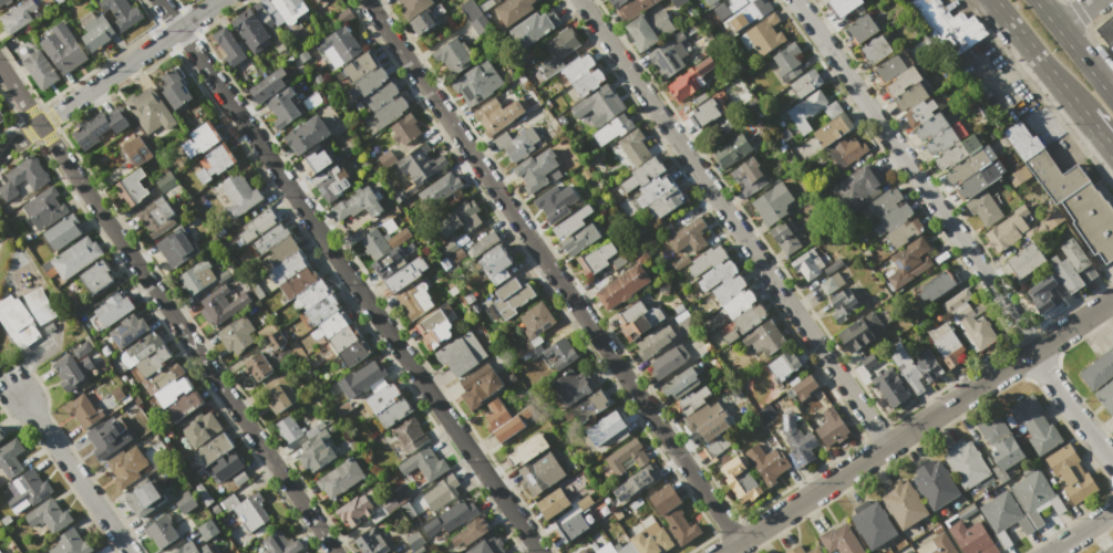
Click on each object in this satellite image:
building: (312, 0)
building: (316, 0)
building: (900, 0)
building: (906, 0)
building: (4, 1)
building: (709, 1)
building: (682, 2)
building: (616, 3)
building: (844, 6)
building: (413, 7)
building: (733, 7)
building: (289, 9)
building: (632, 9)
building: (513, 10)
building: (122, 12)
road: (1075, 12)
building: (266, 13)
building: (344, 14)
building: (746, 14)
building: (18, 15)
building: (474, 17)
building: (425, 19)
building: (948, 25)
building: (533, 28)
building: (651, 28)
building: (862, 28)
building: (94, 30)
building: (1105, 30)
building: (251, 33)
building: (762, 34)
building: (339, 44)
road: (1075, 45)
building: (228, 46)
building: (1111, 46)
building: (62, 48)
building: (876, 49)
building: (557, 52)
building: (453, 55)
road: (1039, 56)
building: (668, 59)
building: (787, 62)
building: (578, 66)
building: (39, 67)
building: (890, 67)
road: (110, 76)
road: (1001, 79)
building: (904, 80)
building: (587, 82)
building: (477, 83)
building: (686, 83)
building: (805, 83)
building: (268, 85)
building: (175, 88)
building: (373, 91)
building: (910, 96)
building: (599, 105)
building: (282, 107)
building: (150, 109)
building: (805, 109)
building: (832, 109)
building: (923, 109)
building: (708, 111)
building: (496, 115)
building: (1, 117)
building: (931, 125)
building: (403, 128)
building: (612, 128)
building: (833, 129)
building: (97, 131)
road: (1099, 133)
building: (307, 135)
building: (785, 135)
building: (199, 138)
building: (1022, 139)
building: (941, 140)
building: (517, 144)
building: (781, 144)
building: (633, 147)
building: (736, 148)
building: (959, 150)
building: (136, 152)
building: (846, 152)
building: (385, 159)
building: (215, 161)
building: (315, 164)
building: (422, 164)
building: (967, 166)
building: (533, 171)
building: (586, 173)
building: (642, 174)
building: (1019, 175)
building: (748, 176)
building: (1054, 176)
building: (23, 177)
building: (804, 179)
building: (980, 179)
building: (165, 181)
building: (331, 181)
building: (132, 187)
building: (440, 188)
building: (655, 188)
building: (856, 188)
building: (239, 194)
building: (664, 202)
building: (882, 202)
building: (357, 204)
building: (772, 204)
building: (553, 205)
building: (44, 208)
building: (983, 208)
building: (155, 217)
building: (460, 218)
building: (893, 218)
building: (1052, 219)
building: (1092, 219)
building: (571, 222)
road: (732, 223)
building: (257, 225)
building: (1042, 228)
building: (1008, 229)
road: (951, 230)
building: (63, 232)
building: (903, 232)
building: (689, 234)
building: (785, 236)
building: (269, 238)
building: (580, 238)
building: (381, 241)
building: (483, 244)
building: (175, 248)
building: (449, 248)
building: (282, 250)
building: (75, 257)
building: (596, 258)
building: (394, 259)
building: (707, 259)
building: (1026, 259)
building: (1078, 259)
building: (679, 261)
building: (909, 261)
building: (618, 262)
building: (807, 263)
building: (495, 264)
building: (288, 267)
building: (832, 267)
road: (552, 271)
building: (1065, 273)
building: (405, 274)
building: (718, 274)
building: (197, 275)
road: (349, 275)
building: (96, 276)
building: (298, 282)
building: (831, 282)
building: (937, 284)
building: (622, 285)
building: (728, 289)
building: (1044, 293)
building: (512, 296)
building: (414, 300)
building: (956, 300)
building: (317, 301)
building: (736, 304)
building: (39, 305)
building: (220, 305)
building: (843, 305)
building: (113, 309)
building: (978, 309)
road: (166, 311)
building: (535, 320)
building: (638, 320)
building: (742, 321)
building: (17, 322)
building: (439, 326)
building: (687, 326)
building: (971, 327)
building: (128, 330)
building: (860, 331)
building: (334, 333)
building: (236, 334)
building: (765, 336)
building: (944, 338)
building: (276, 340)
building: (653, 342)
building: (708, 346)
building: (354, 353)
building: (462, 353)
building: (556, 353)
building: (147, 354)
building: (867, 361)
building: (670, 363)
building: (784, 365)
building: (928, 365)
building: (257, 366)
building: (73, 367)
building: (908, 368)
building: (1099, 371)
building: (360, 380)
building: (682, 382)
building: (480, 385)
building: (171, 386)
building: (573, 386)
building: (805, 386)
building: (890, 388)
building: (277, 394)
road: (14, 396)
building: (1106, 396)
building: (691, 400)
building: (184, 405)
building: (385, 405)
building: (590, 406)
building: (82, 410)
building: (766, 414)
building: (702, 415)
building: (504, 419)
building: (1034, 424)
building: (713, 425)
building: (832, 427)
road: (917, 427)
building: (200, 428)
building: (288, 429)
building: (607, 429)
building: (2, 432)
building: (409, 434)
building: (106, 440)
building: (797, 441)
building: (1000, 442)
building: (719, 445)
building: (214, 449)
building: (527, 449)
building: (316, 455)
building: (626, 456)
building: (10, 458)
building: (766, 463)
building: (967, 465)
building: (422, 466)
building: (127, 467)
building: (225, 467)
building: (540, 473)
building: (1070, 473)
road: (79, 478)
building: (340, 478)
building: (740, 479)
building: (935, 482)
building: (635, 483)
building: (28, 490)
building: (441, 492)
building: (202, 493)
building: (401, 494)
building: (146, 498)
building: (1038, 500)
building: (584, 501)
building: (185, 502)
building: (552, 503)
building: (636, 503)
building: (905, 505)
building: (391, 507)
building: (247, 510)
building: (408, 510)
building: (354, 511)
building: (617, 514)
building: (673, 514)
building: (47, 517)
building: (1003, 517)
building: (450, 518)
building: (4, 520)
building: (873, 523)
building: (571, 526)
building: (159, 529)
building: (208, 530)
building: (471, 531)
road: (1081, 532)
building: (970, 535)
building: (651, 538)
building: (414, 540)
building: (839, 540)
building: (1112, 541)
building: (371, 542)
building: (70, 543)
building: (280, 543)
building: (487, 545)
building: (936, 545)
building: (612, 547)
building: (192, 549)
building: (803, 550)
building: (1106, 550)
building: (0, 552)
building: (305, 552)
building: (584, 552)
building: (908, 552)

